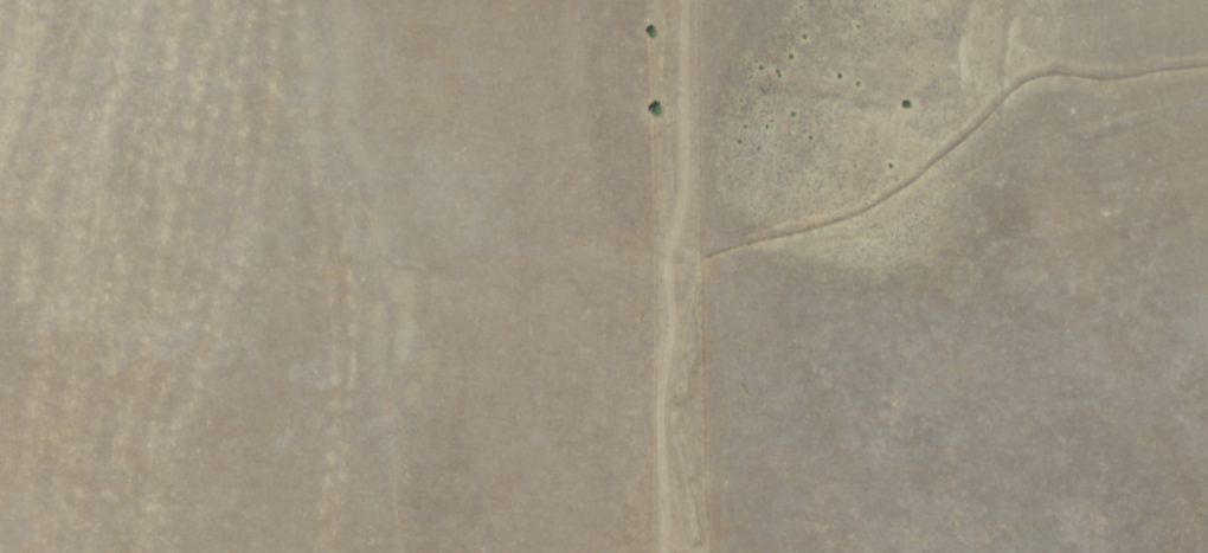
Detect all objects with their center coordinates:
road: (654, 276)

